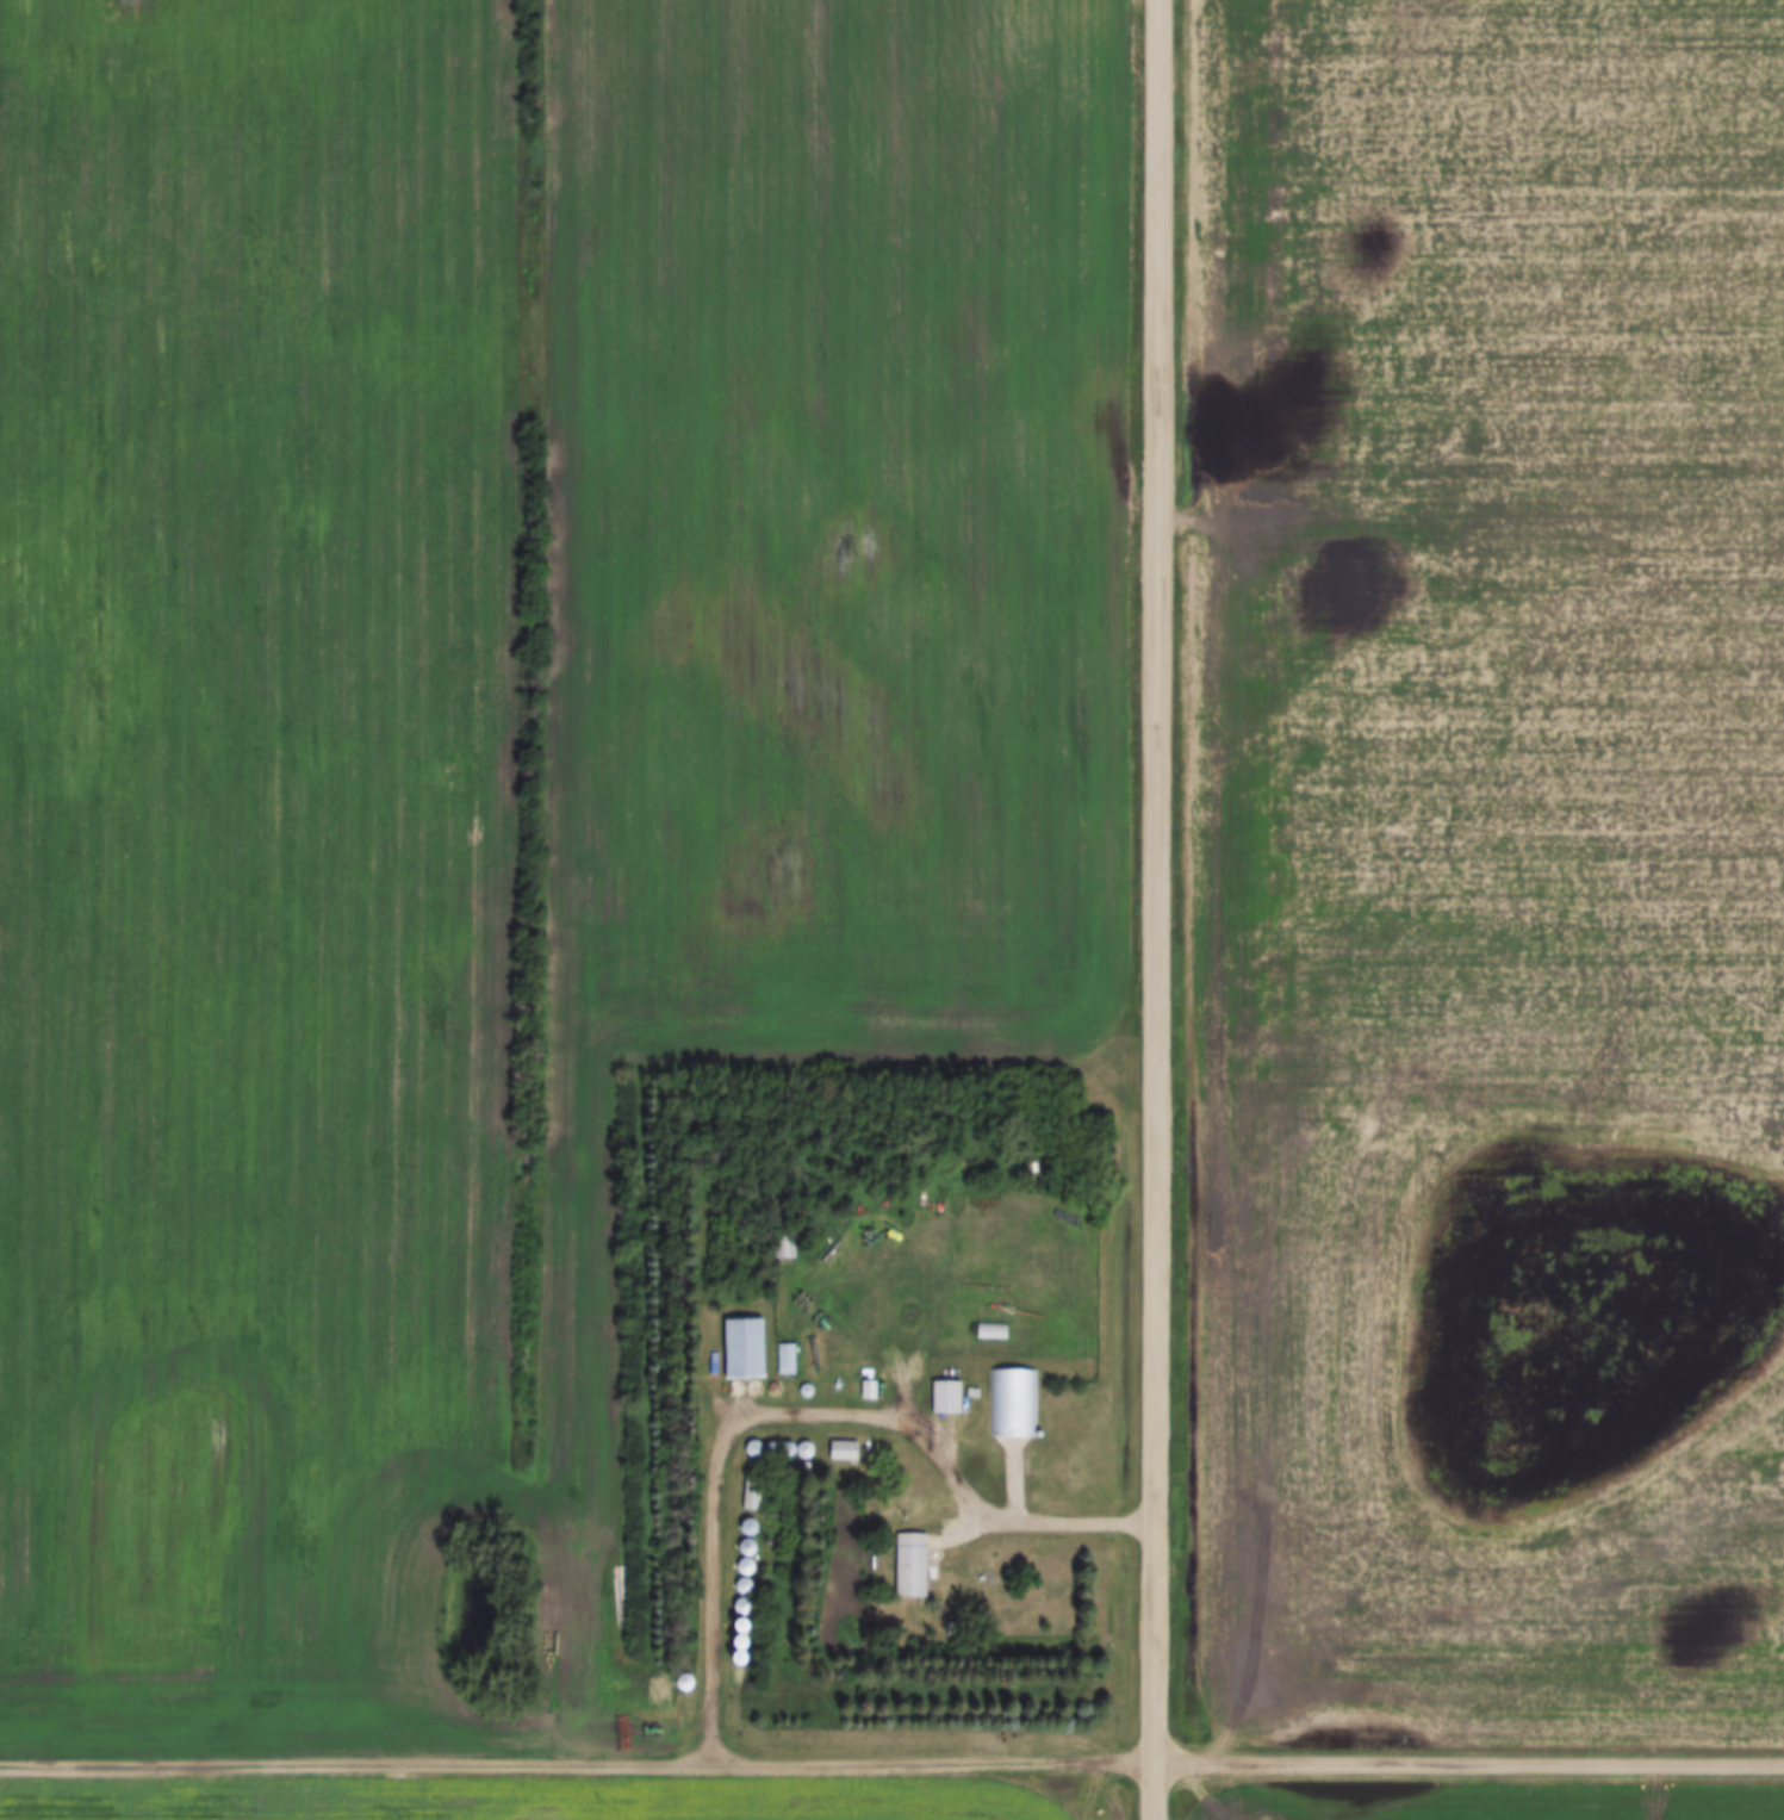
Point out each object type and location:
road: (1155, 909)
building: (993, 1333)
building: (748, 1348)
building: (788, 1359)
building: (869, 1390)
building: (949, 1397)
building: (1011, 1402)
road: (794, 1409)
building: (846, 1451)
building: (754, 1491)
building: (914, 1566)
road: (937, 1759)
road: (1471, 1760)
road: (358, 1762)

